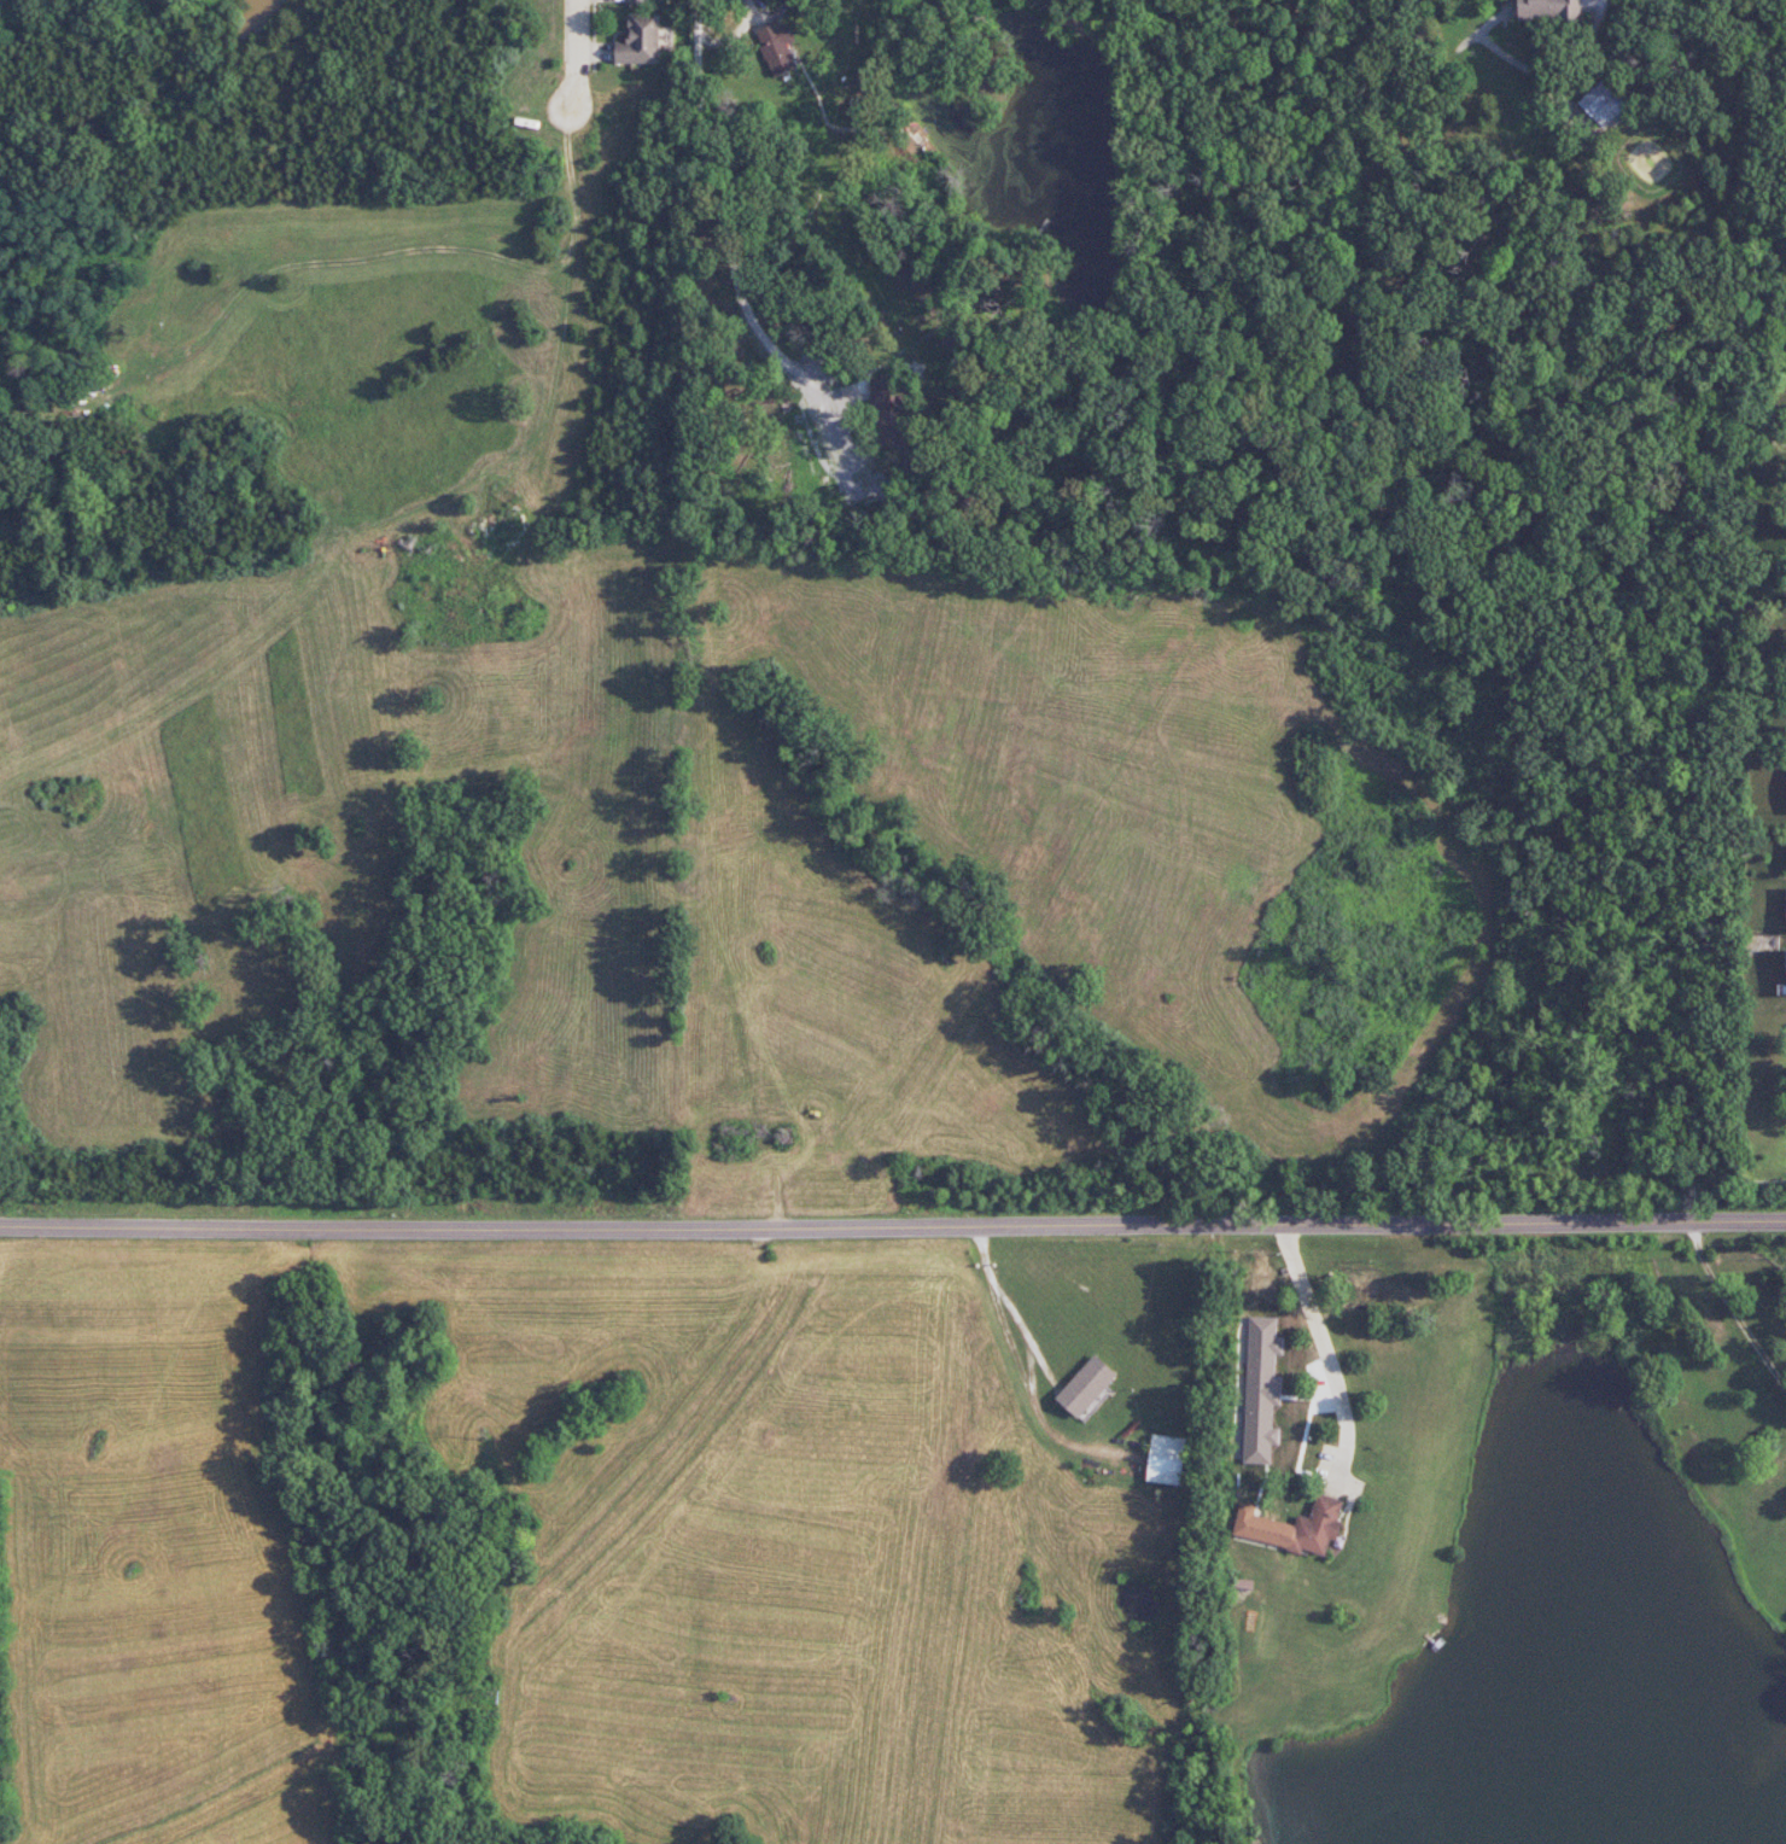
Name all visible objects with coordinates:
building: (637, 1)
building: (1548, 10)
building: (640, 40)
building: (776, 47)
building: (1601, 103)
road: (728, 241)
road: (588, 257)
building: (1785, 962)
road: (893, 1230)
road: (1730, 1311)
road: (1326, 1354)
building: (1085, 1387)
building: (1165, 1459)
building: (1292, 1527)

